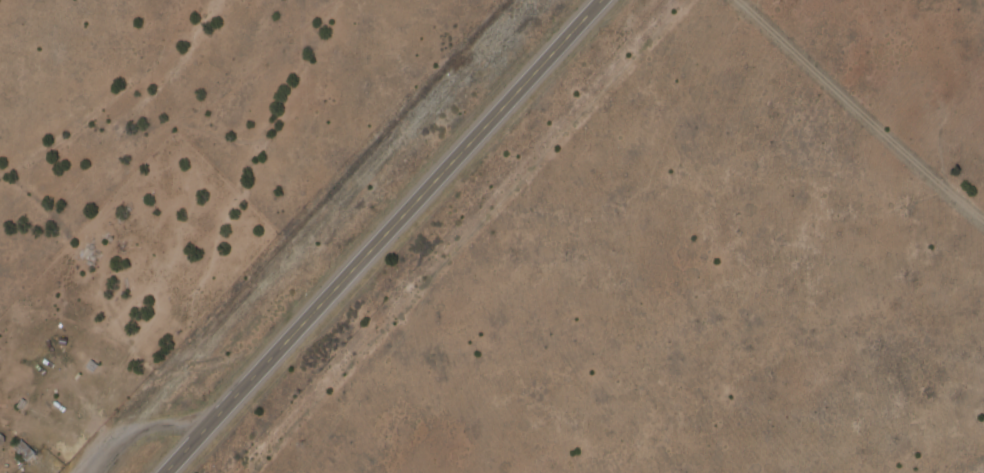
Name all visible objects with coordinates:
road: (862, 104)
road: (381, 236)
building: (22, 453)

